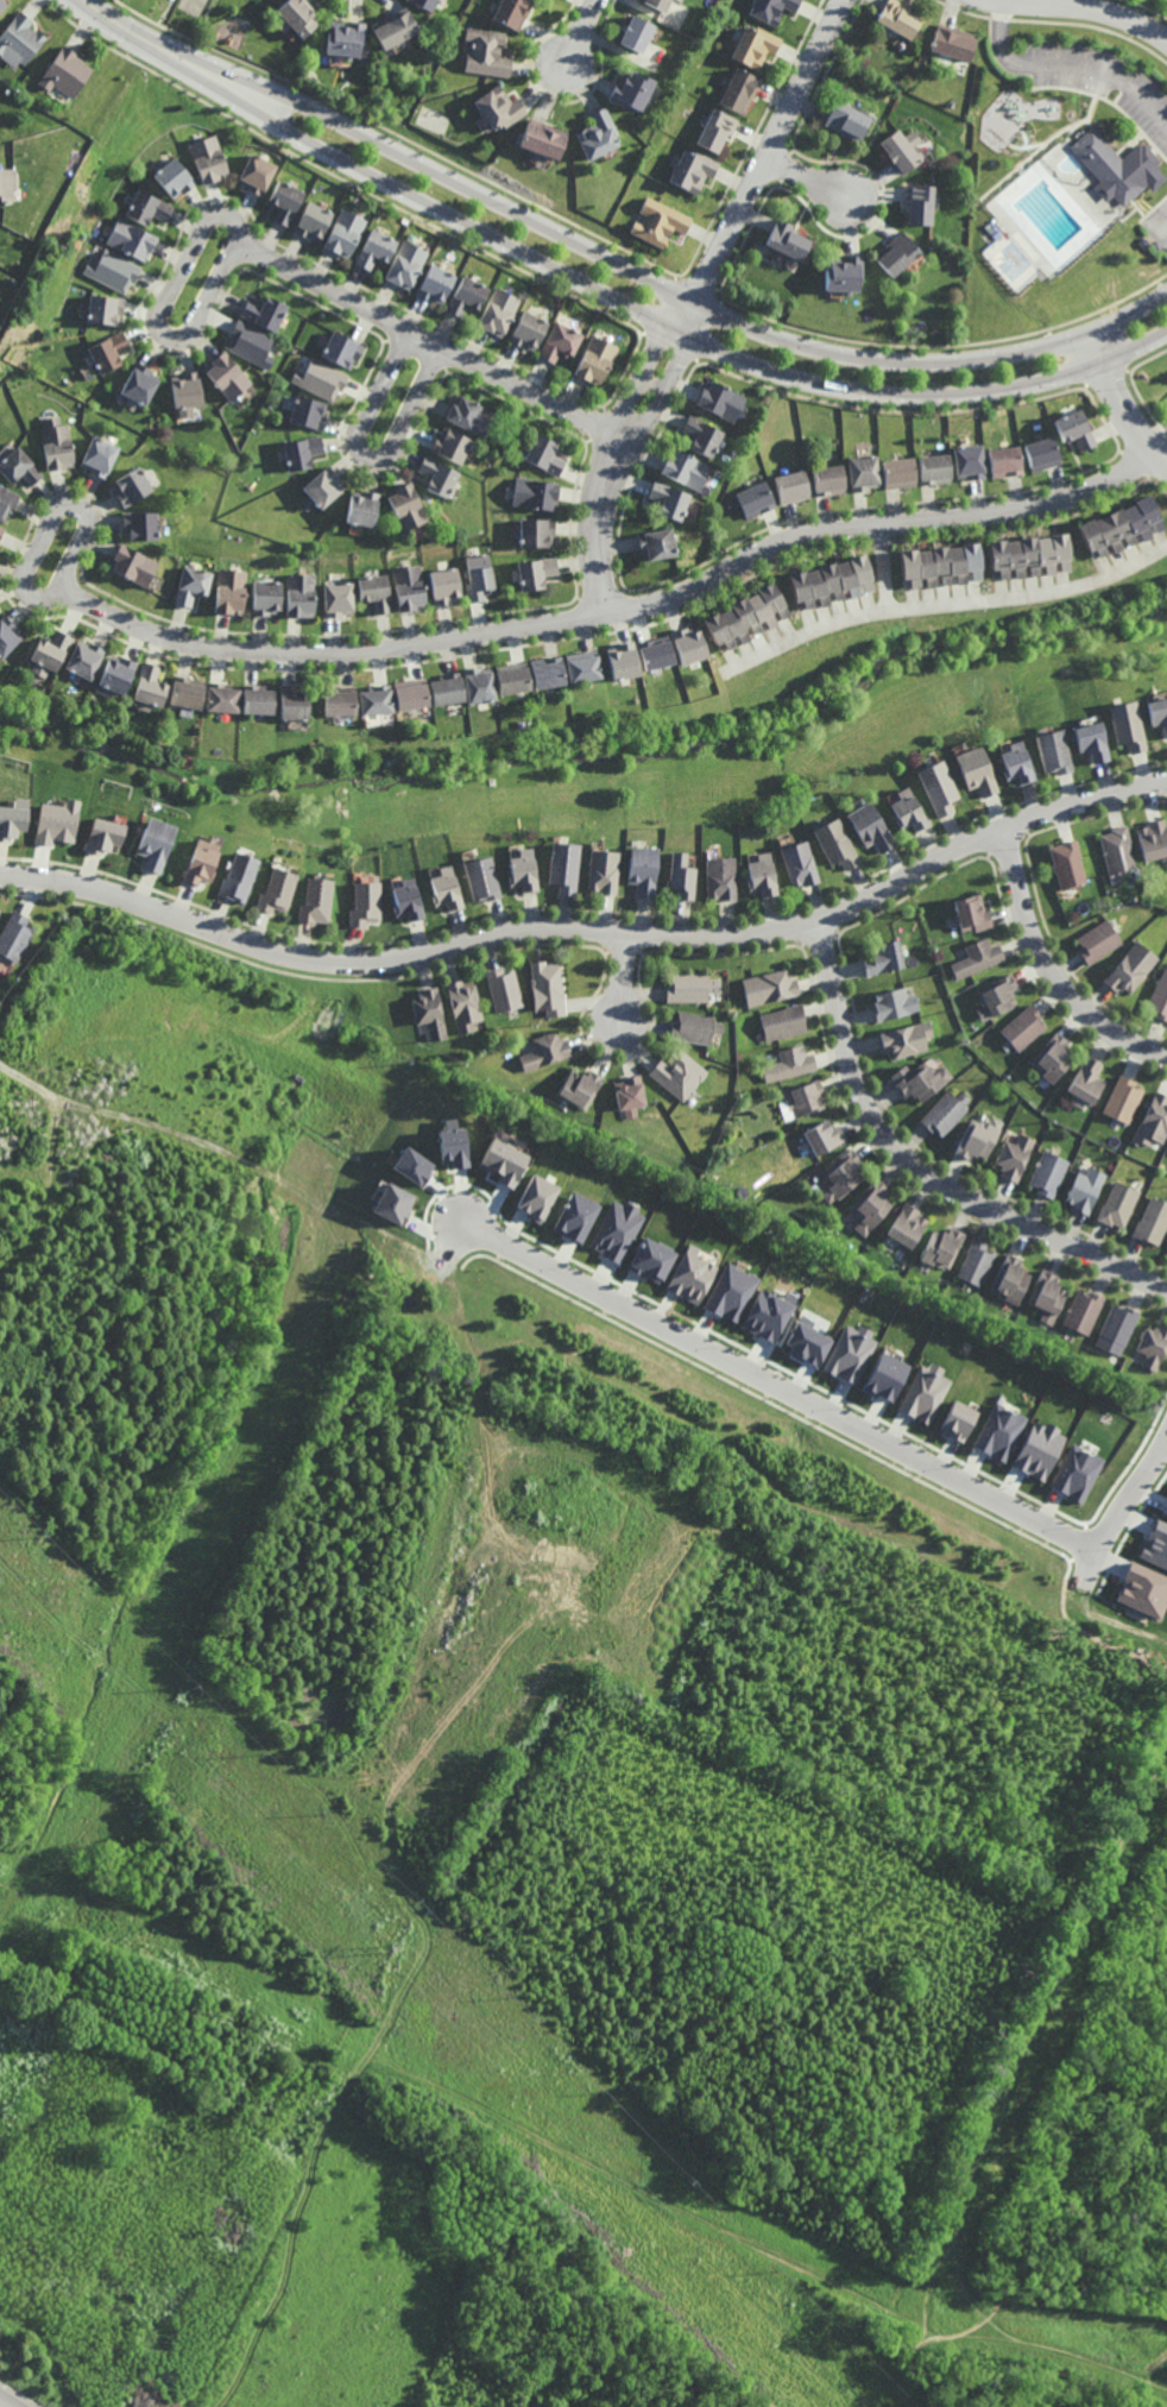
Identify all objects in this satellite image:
building: (427, 4)
building: (658, 4)
building: (2, 5)
road: (1093, 7)
building: (774, 10)
building: (513, 12)
building: (299, 17)
building: (900, 18)
road: (122, 23)
building: (395, 27)
road: (583, 32)
building: (637, 33)
building: (21, 38)
building: (346, 38)
building: (953, 43)
building: (902, 45)
building: (757, 46)
building: (487, 52)
road: (1067, 65)
building: (67, 71)
parking lot: (1103, 78)
building: (632, 89)
building: (742, 92)
road: (1106, 97)
building: (499, 107)
building: (685, 107)
building: (849, 121)
building: (719, 130)
building: (599, 134)
building: (543, 138)
road: (1131, 143)
road: (1046, 144)
building: (904, 149)
building: (213, 159)
building: (1118, 165)
building: (695, 171)
building: (259, 174)
building: (178, 178)
road: (809, 178)
building: (8, 183)
building: (288, 202)
building: (921, 203)
building: (150, 208)
road: (1147, 214)
building: (314, 221)
building: (662, 222)
parking lot: (1159, 223)
building: (346, 233)
road: (1165, 234)
building: (133, 239)
power tower: (49, 241)
building: (789, 244)
building: (377, 248)
building: (897, 253)
building: (408, 263)
building: (114, 270)
building: (844, 273)
road: (651, 279)
building: (437, 284)
building: (469, 296)
road: (695, 298)
building: (106, 309)
road: (160, 309)
building: (265, 313)
building: (500, 313)
road: (642, 313)
building: (530, 330)
road: (431, 340)
building: (562, 342)
building: (252, 344)
building: (345, 349)
building: (111, 351)
building: (598, 359)
building: (228, 376)
building: (322, 379)
building: (141, 384)
building: (188, 390)
building: (721, 399)
parking lot: (1166, 402)
road: (1123, 404)
building: (310, 412)
building: (471, 416)
building: (1075, 429)
building: (702, 435)
road: (1159, 439)
building: (58, 443)
building: (452, 446)
building: (303, 452)
building: (1042, 453)
building: (547, 454)
building: (101, 455)
road: (367, 455)
building: (970, 461)
building: (1007, 461)
building: (20, 467)
building: (686, 468)
building: (935, 468)
building: (864, 472)
building: (900, 472)
building: (440, 477)
building: (829, 479)
building: (133, 486)
building: (793, 486)
building: (324, 487)
building: (537, 493)
building: (756, 498)
building: (7, 500)
building: (670, 500)
building: (406, 506)
building: (364, 509)
road: (58, 510)
building: (143, 525)
building: (1121, 527)
building: (1, 530)
building: (538, 533)
building: (658, 543)
building: (1029, 555)
building: (135, 565)
building: (941, 565)
road: (882, 566)
building: (537, 573)
building: (480, 576)
building: (832, 581)
building: (194, 585)
building: (447, 586)
building: (410, 587)
building: (234, 591)
building: (377, 592)
building: (303, 593)
building: (269, 597)
building: (339, 598)
road: (948, 603)
road: (614, 612)
building: (747, 616)
building: (7, 635)
building: (689, 644)
building: (50, 651)
building: (656, 653)
building: (86, 659)
building: (623, 660)
building: (582, 666)
building: (548, 672)
building: (118, 673)
building: (513, 676)
building: (478, 683)
building: (151, 685)
building: (447, 688)
building: (188, 692)
building: (410, 693)
building: (222, 697)
building: (258, 698)
building: (376, 699)
building: (339, 700)
building: (294, 701)
building: (1156, 710)
building: (1124, 723)
building: (1087, 737)
building: (1051, 749)
building: (1013, 761)
building: (978, 768)
building: (940, 785)
building: (909, 809)
building: (12, 819)
building: (56, 823)
building: (872, 825)
building: (109, 831)
building: (1153, 837)
building: (156, 843)
building: (837, 843)
building: (1116, 848)
building: (201, 862)
building: (799, 863)
building: (1066, 863)
building: (561, 865)
building: (641, 868)
building: (522, 870)
building: (601, 871)
building: (680, 875)
building: (762, 875)
building: (238, 876)
building: (481, 877)
building: (719, 877)
building: (444, 888)
building: (275, 889)
building: (405, 899)
building: (315, 900)
building: (364, 902)
building: (976, 912)
road: (589, 934)
building: (15, 935)
building: (1098, 940)
building: (885, 957)
building: (980, 957)
building: (1130, 968)
road: (1053, 971)
road: (625, 982)
building: (547, 987)
building: (692, 987)
building: (769, 987)
building: (504, 989)
building: (999, 997)
building: (1159, 997)
building: (463, 1004)
building: (896, 1004)
building: (429, 1012)
building: (783, 1022)
building: (1027, 1027)
building: (696, 1028)
building: (908, 1039)
building: (547, 1052)
building: (1055, 1058)
building: (789, 1064)
building: (680, 1072)
building: (921, 1080)
building: (1089, 1080)
building: (581, 1089)
building: (631, 1095)
building: (805, 1098)
building: (1123, 1099)
building: (947, 1114)
building: (1153, 1121)
building: (824, 1136)
building: (980, 1139)
building: (453, 1145)
building: (1016, 1158)
building: (504, 1162)
building: (412, 1166)
road: (921, 1172)
building: (841, 1174)
building: (1051, 1174)
building: (1087, 1191)
road: (49, 1197)
building: (537, 1197)
building: (393, 1204)
building: (871, 1206)
building: (1121, 1206)
building: (575, 1217)
building: (1152, 1222)
building: (908, 1227)
building: (617, 1230)
building: (944, 1249)
building: (651, 1260)
building: (978, 1264)
building: (690, 1275)
building: (1013, 1281)
building: (731, 1292)
building: (1049, 1298)
building: (1086, 1313)
building: (768, 1315)
building: (1119, 1331)
building: (806, 1343)
building: (1155, 1348)
building: (850, 1354)
building: (885, 1376)
road: (770, 1381)
building: (925, 1393)
building: (958, 1420)
building: (999, 1432)
building: (1039, 1450)
building: (1075, 1473)
road: (1122, 1504)
building: (1165, 1511)
building: (1155, 1545)
building: (1143, 1590)
road: (170, 1703)
road: (391, 1836)
power tower: (392, 1951)
road: (1046, 2034)
road: (564, 2151)
park: (1062, 2174)
road: (1041, 2218)
road: (526, 2226)
road: (1047, 2249)
road: (644, 2264)
road: (931, 2270)
road: (1075, 2317)
road: (895, 2380)
road: (10, 2400)

